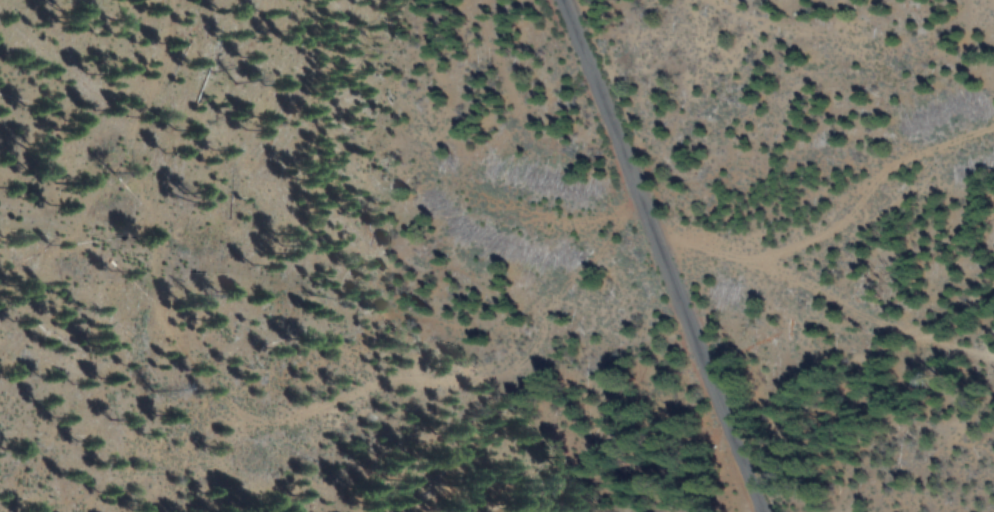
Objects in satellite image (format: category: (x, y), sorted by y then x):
road: (837, 222)
road: (664, 256)

